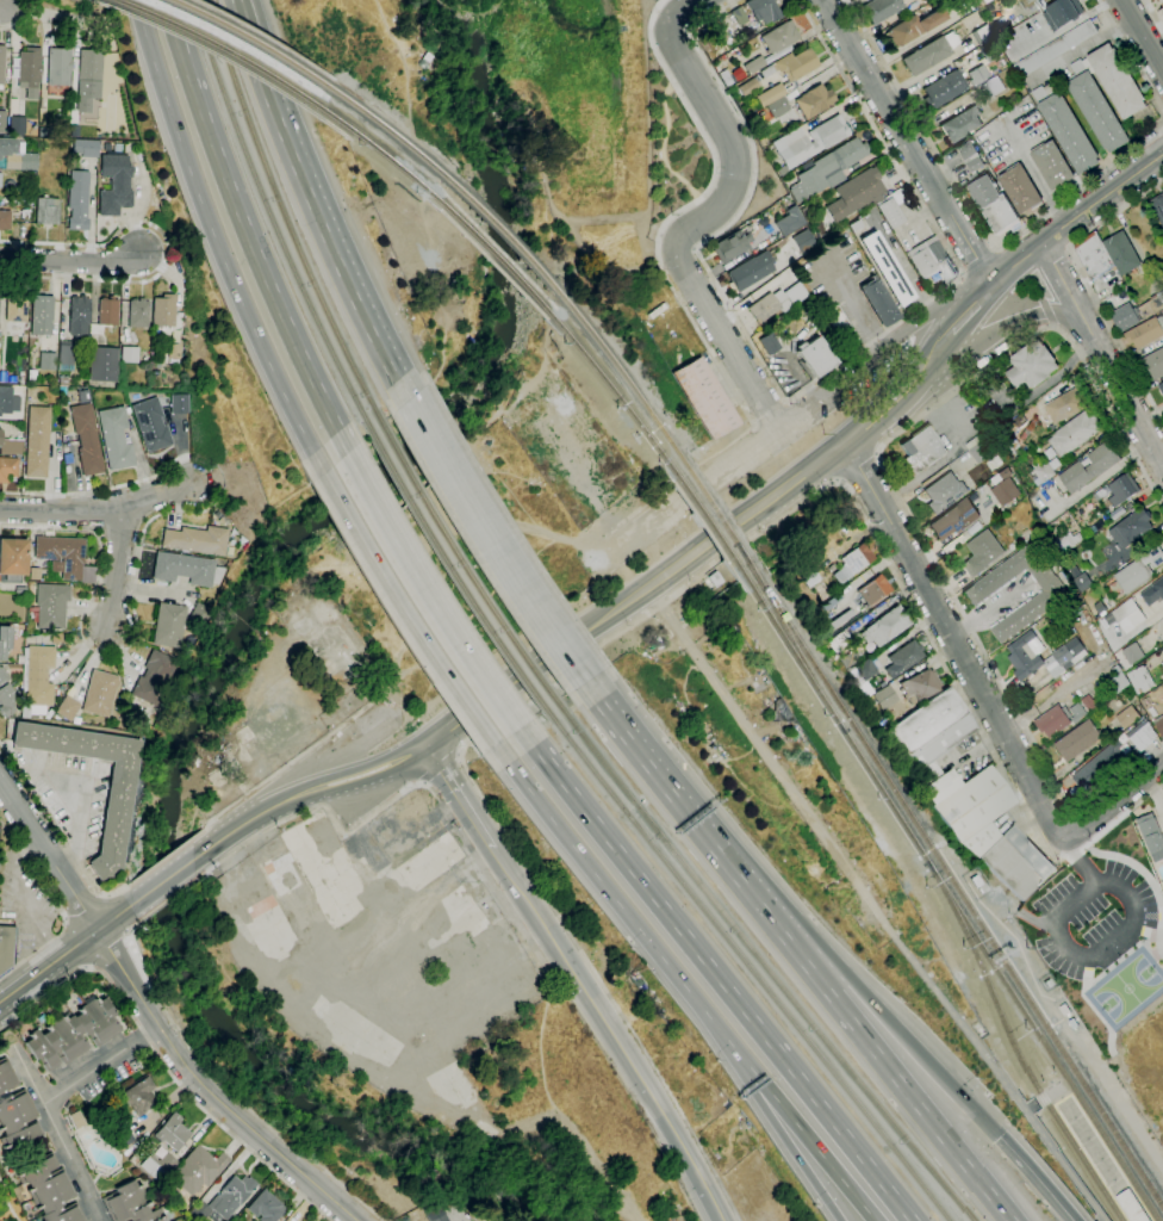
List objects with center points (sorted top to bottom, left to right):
building: (926, 0)
building: (1162, 0)
building: (985, 1)
building: (1028, 2)
building: (1162, 2)
road: (672, 6)
road: (682, 10)
building: (763, 10)
building: (879, 10)
road: (37, 12)
road: (141, 12)
road: (241, 13)
building: (1062, 13)
building: (1161, 14)
building: (739, 16)
road: (1152, 16)
road: (175, 20)
road: (14, 23)
building: (1000, 25)
building: (913, 26)
railway: (237, 33)
road: (1142, 36)
building: (779, 38)
railway: (217, 47)
building: (1053, 48)
building: (990, 50)
building: (929, 54)
road: (1130, 54)
road: (256, 56)
building: (1, 63)
building: (753, 64)
building: (58, 67)
building: (29, 70)
building: (786, 74)
building: (977, 74)
building: (88, 79)
building: (1117, 81)
building: (994, 85)
building: (747, 86)
building: (944, 89)
building: (814, 100)
building: (1095, 106)
building: (777, 107)
building: (2, 119)
railway: (379, 123)
building: (960, 124)
building: (17, 125)
building: (1065, 129)
road: (907, 141)
building: (790, 142)
building: (7, 147)
building: (106, 147)
building: (85, 148)
railway: (379, 151)
building: (970, 156)
building: (27, 161)
building: (1051, 165)
building: (829, 166)
building: (780, 171)
building: (0, 178)
building: (114, 181)
building: (1019, 188)
building: (854, 193)
building: (77, 200)
road: (1101, 200)
building: (993, 204)
building: (1157, 204)
road: (974, 209)
building: (46, 211)
building: (807, 211)
building: (890, 212)
road: (1113, 213)
railway: (284, 216)
building: (5, 219)
railway: (270, 219)
building: (788, 221)
building: (856, 225)
road: (691, 227)
railway: (500, 230)
road: (674, 238)
building: (803, 240)
road: (331, 244)
building: (730, 246)
road: (692, 247)
road: (994, 247)
road: (169, 248)
road: (256, 249)
road: (1065, 252)
road: (220, 253)
building: (1121, 253)
building: (1093, 255)
railway: (496, 258)
building: (931, 260)
road: (978, 261)
road: (70, 262)
road: (1050, 262)
road: (1016, 264)
building: (887, 268)
building: (751, 271)
road: (962, 273)
road: (1062, 281)
road: (1038, 285)
road: (672, 287)
building: (776, 302)
building: (878, 302)
building: (1151, 306)
road: (971, 309)
building: (13, 310)
building: (163, 310)
road: (1045, 310)
building: (107, 311)
building: (138, 312)
building: (41, 315)
building: (809, 315)
building: (79, 317)
building: (1124, 317)
building: (840, 326)
road: (1052, 327)
building: (1145, 331)
road: (996, 337)
road: (1115, 339)
building: (769, 343)
road: (882, 349)
building: (174, 351)
building: (66, 353)
building: (129, 354)
building: (815, 355)
road: (931, 355)
building: (46, 361)
building: (102, 364)
building: (154, 364)
building: (1152, 364)
building: (1031, 365)
railway: (616, 367)
building: (62, 380)
building: (1161, 388)
railway: (610, 389)
road: (804, 390)
road: (1122, 393)
building: (83, 396)
building: (705, 397)
building: (7, 401)
building: (179, 403)
building: (1064, 405)
road: (881, 409)
building: (150, 424)
building: (1074, 433)
building: (116, 438)
building: (86, 439)
building: (37, 441)
building: (974, 441)
building: (11, 445)
building: (921, 448)
building: (1013, 450)
building: (981, 451)
road: (877, 452)
road: (854, 464)
building: (1088, 467)
building: (7, 469)
building: (1044, 472)
road: (835, 479)
building: (1122, 489)
road: (99, 490)
road: (699, 490)
building: (944, 492)
building: (1005, 492)
road: (897, 496)
railway: (707, 501)
road: (98, 509)
building: (999, 512)
building: (953, 519)
building: (223, 520)
railway: (705, 520)
road: (869, 523)
building: (1096, 526)
building: (1034, 528)
building: (1130, 528)
building: (197, 540)
road: (495, 541)
building: (1068, 543)
building: (981, 552)
building: (61, 554)
railway: (742, 557)
railway: (744, 557)
building: (12, 559)
building: (853, 562)
road: (117, 565)
railway: (462, 565)
building: (186, 569)
building: (1138, 570)
railway: (453, 572)
building: (33, 574)
building: (810, 577)
building: (45, 578)
building: (716, 578)
building: (1080, 579)
road: (430, 590)
building: (872, 590)
building: (1152, 591)
road: (638, 594)
building: (1052, 594)
building: (831, 602)
building: (51, 606)
road: (405, 609)
road: (987, 609)
building: (1162, 614)
building: (200, 615)
building: (1128, 615)
building: (169, 625)
building: (885, 626)
building: (841, 638)
road: (953, 639)
building: (4, 640)
road: (98, 650)
railway: (795, 651)
building: (1132, 652)
railway: (792, 653)
building: (1041, 656)
river: (230, 658)
building: (904, 658)
building: (850, 659)
building: (161, 668)
building: (38, 675)
building: (865, 676)
building: (1140, 680)
building: (1114, 683)
building: (921, 684)
building: (145, 690)
building: (19, 692)
building: (5, 694)
building: (99, 694)
building: (885, 696)
building: (67, 708)
building: (25, 711)
building: (1076, 712)
building: (1127, 717)
building: (138, 718)
building: (1051, 721)
building: (1159, 725)
building: (932, 732)
road: (629, 736)
building: (1142, 736)
building: (1076, 740)
road: (338, 750)
road: (458, 754)
road: (365, 767)
road: (439, 767)
building: (1100, 768)
road: (281, 769)
road: (369, 780)
road: (422, 783)
railway: (884, 797)
road: (460, 798)
road: (1114, 802)
building: (970, 806)
road: (316, 807)
building: (117, 808)
road: (245, 823)
road: (57, 832)
building: (1151, 837)
road: (48, 856)
road: (1080, 861)
road: (160, 862)
building: (1016, 862)
road: (590, 867)
road: (162, 881)
railway: (957, 888)
road: (108, 895)
road: (24, 898)
road: (164, 901)
road: (58, 905)
road: (873, 905)
road: (87, 907)
road: (536, 910)
road: (114, 917)
parking lot: (1093, 918)
road: (66, 919)
road: (126, 931)
road: (131, 943)
building: (7, 948)
road: (105, 948)
road: (1099, 955)
railway: (761, 962)
railway: (746, 963)
road: (837, 963)
road: (49, 967)
road: (86, 967)
road: (717, 973)
road: (599, 983)
park: (1126, 988)
railway: (994, 1002)
road: (841, 1005)
building: (74, 1033)
railway: (1041, 1042)
road: (163, 1064)
road: (101, 1065)
road: (209, 1091)
road: (652, 1096)
railway: (1066, 1096)
building: (139, 1097)
road: (764, 1104)
road: (782, 1104)
building: (14, 1112)
building: (77, 1120)
road: (573, 1129)
building: (172, 1132)
road: (58, 1134)
traffic signals: (1000, 1138)
building: (158, 1165)
building: (197, 1170)
road: (1038, 1178)
railway: (1093, 1179)
road: (341, 1183)
building: (49, 1189)
building: (225, 1198)
building: (130, 1204)
building: (265, 1207)
building: (1131, 1207)
building: (440, 1217)

